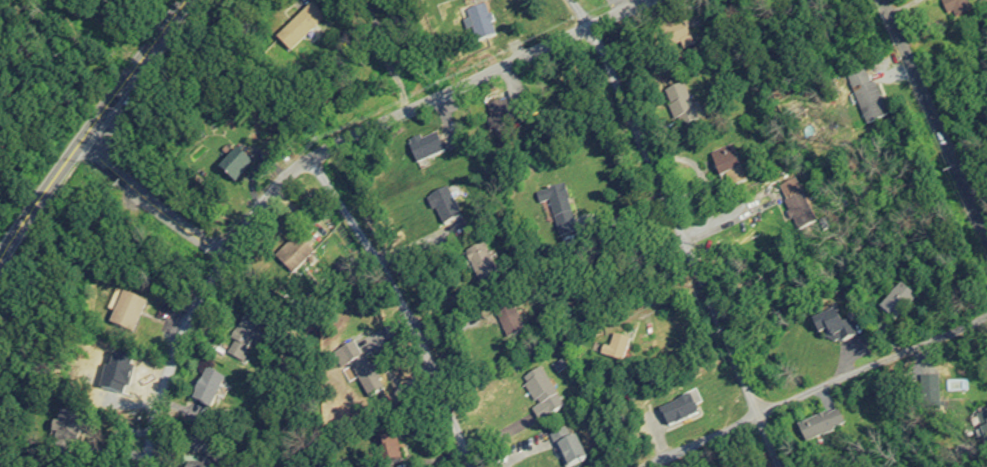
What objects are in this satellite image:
building: (955, 7)
building: (479, 24)
building: (869, 105)
building: (679, 107)
road: (932, 119)
road: (89, 127)
road: (315, 155)
building: (723, 167)
road: (700, 173)
road: (142, 205)
building: (557, 210)
road: (732, 222)
road: (679, 231)
building: (479, 264)
building: (895, 305)
road: (397, 308)
road: (656, 310)
building: (509, 325)
building: (830, 328)
building: (611, 349)
building: (359, 369)
road: (817, 388)
building: (928, 389)
building: (540, 395)
building: (676, 412)
building: (819, 427)
building: (563, 448)

